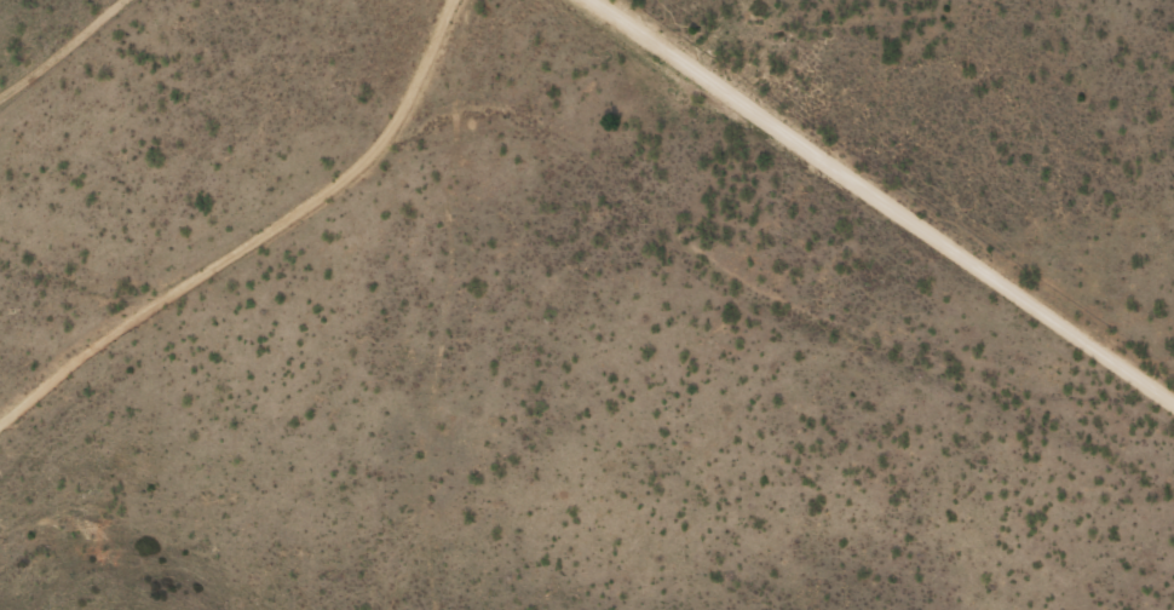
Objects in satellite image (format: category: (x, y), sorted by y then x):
road: (583, 174)
road: (67, 389)

